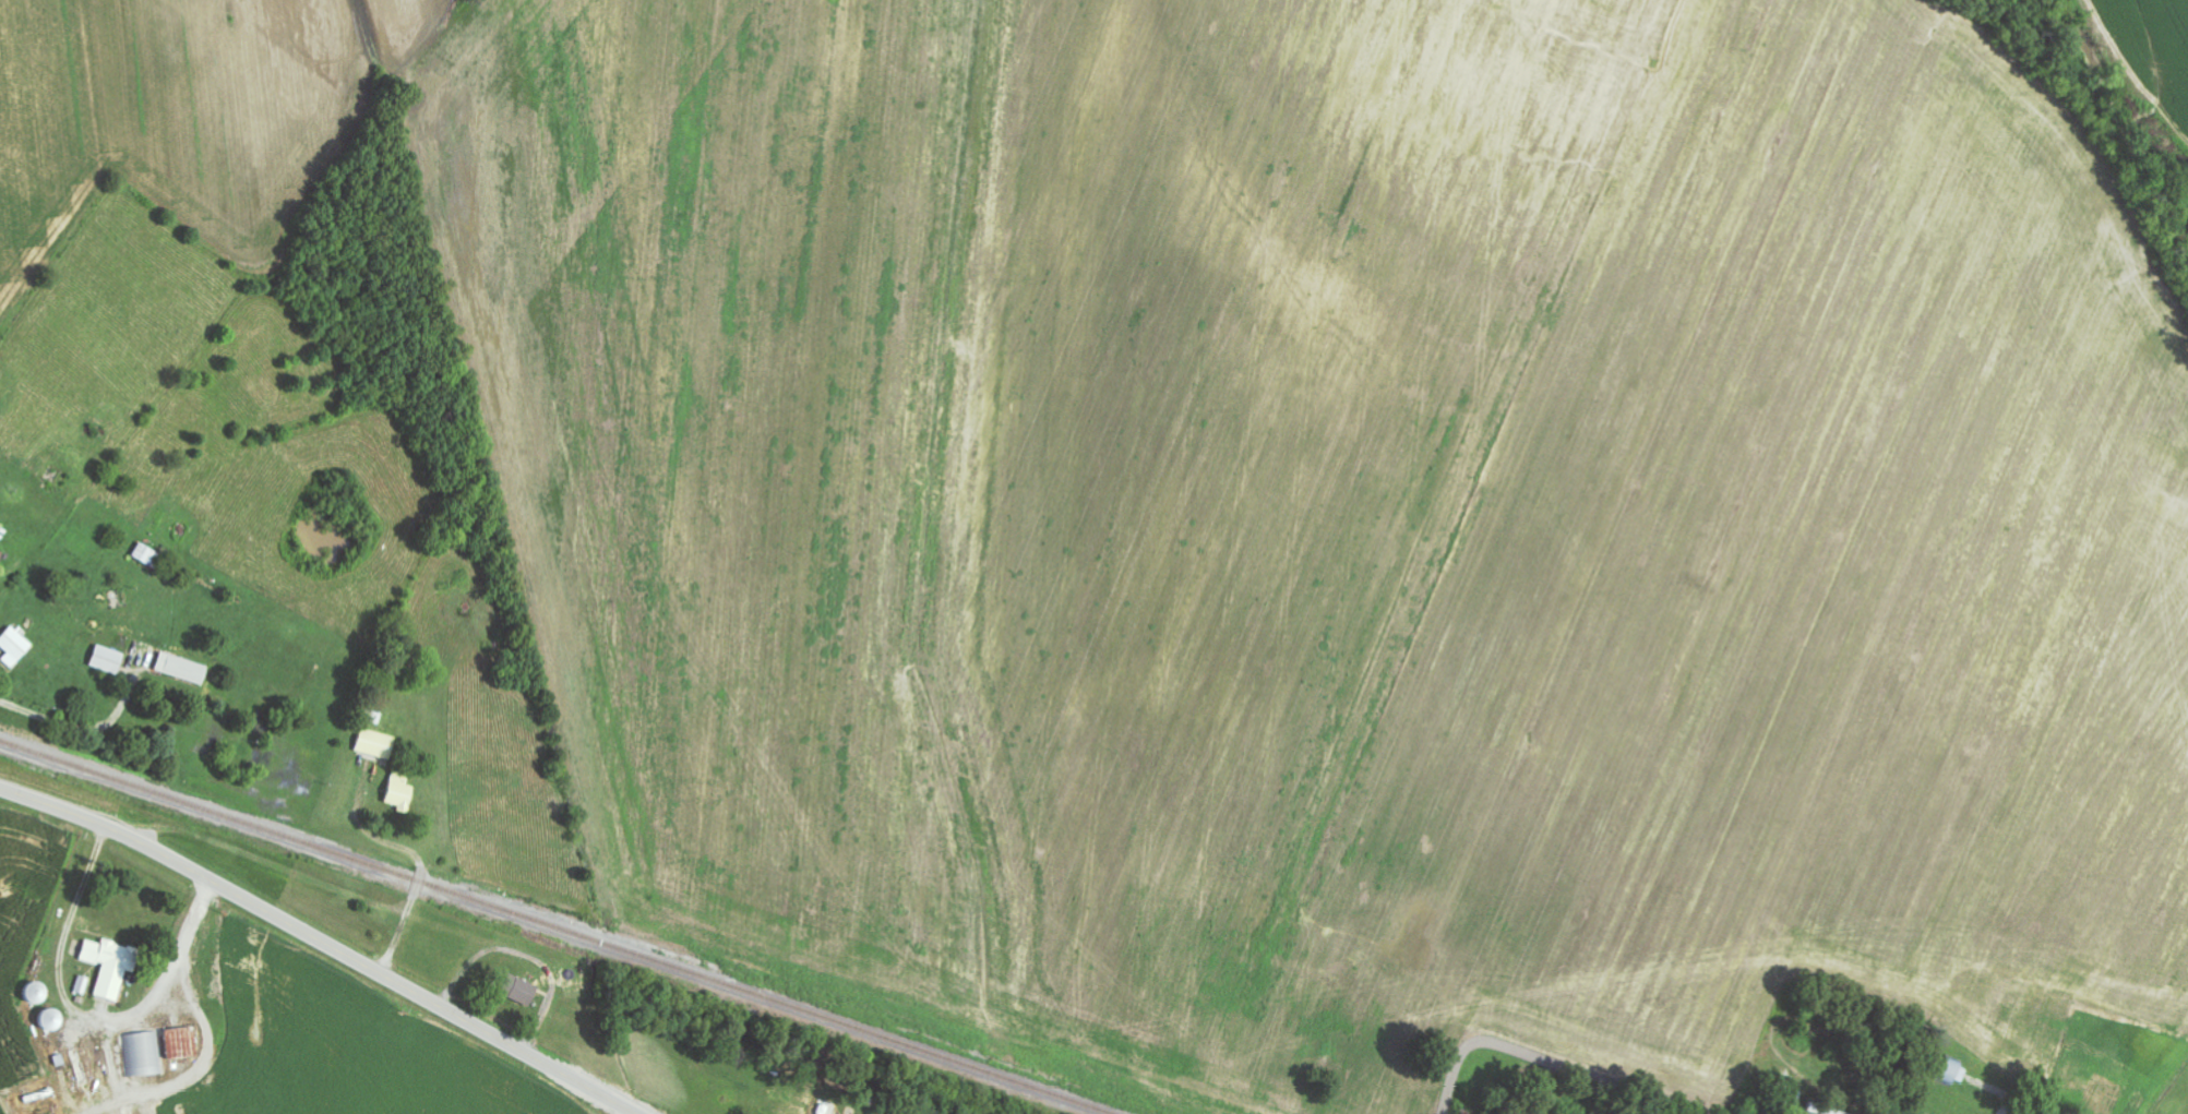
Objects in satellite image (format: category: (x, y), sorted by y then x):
building: (150, 556)
building: (1, 561)
building: (14, 647)
building: (108, 660)
building: (182, 669)
road: (77, 728)
building: (375, 744)
building: (399, 792)
road: (418, 861)
railway: (552, 927)
road: (320, 944)
building: (111, 967)
building: (83, 985)
building: (521, 991)
road: (84, 1026)
building: (181, 1044)
building: (143, 1055)
road: (1553, 1058)
road: (115, 1064)
road: (205, 1067)

